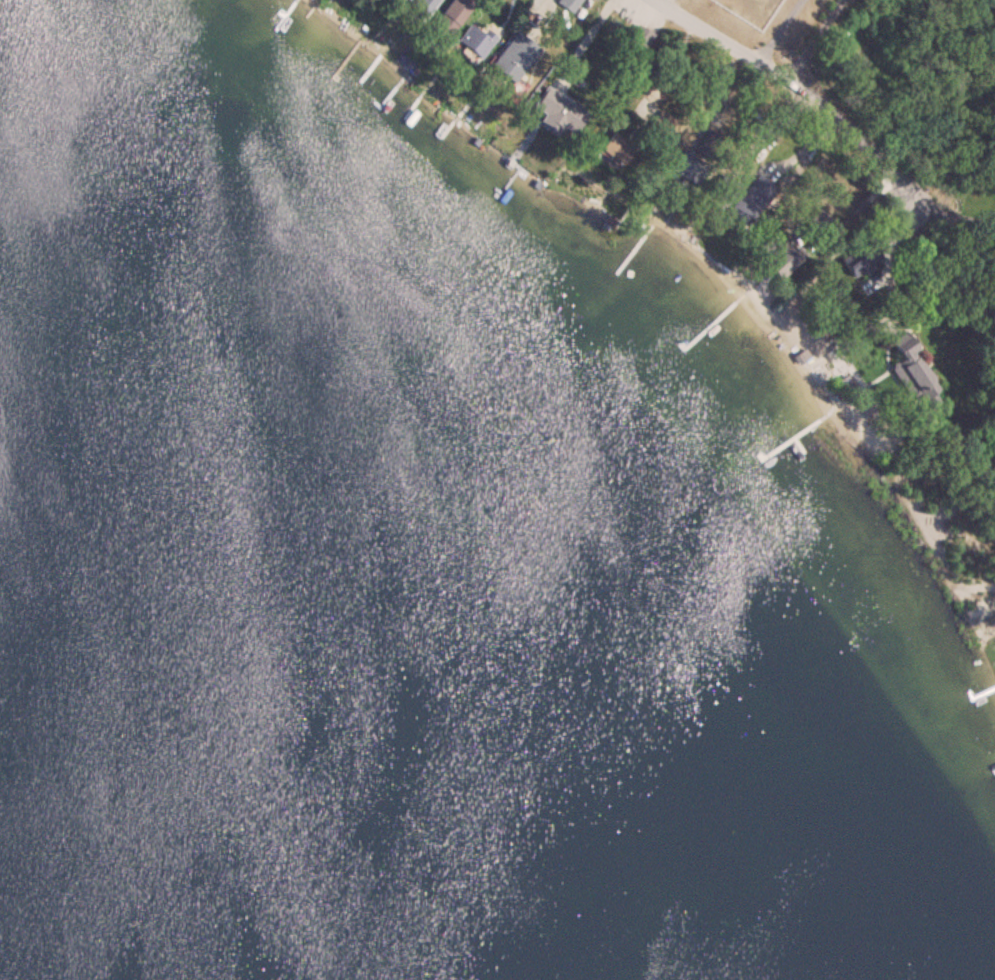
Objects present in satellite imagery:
building: (422, 5)
building: (450, 18)
road: (775, 30)
building: (638, 38)
road: (583, 40)
road: (813, 40)
building: (474, 41)
building: (513, 57)
road: (795, 89)
building: (559, 110)
building: (663, 123)
building: (709, 143)
building: (616, 147)
building: (688, 167)
building: (722, 188)
building: (751, 199)
road: (953, 213)
building: (820, 221)
building: (779, 250)
building: (862, 260)
road: (886, 263)
building: (912, 368)

